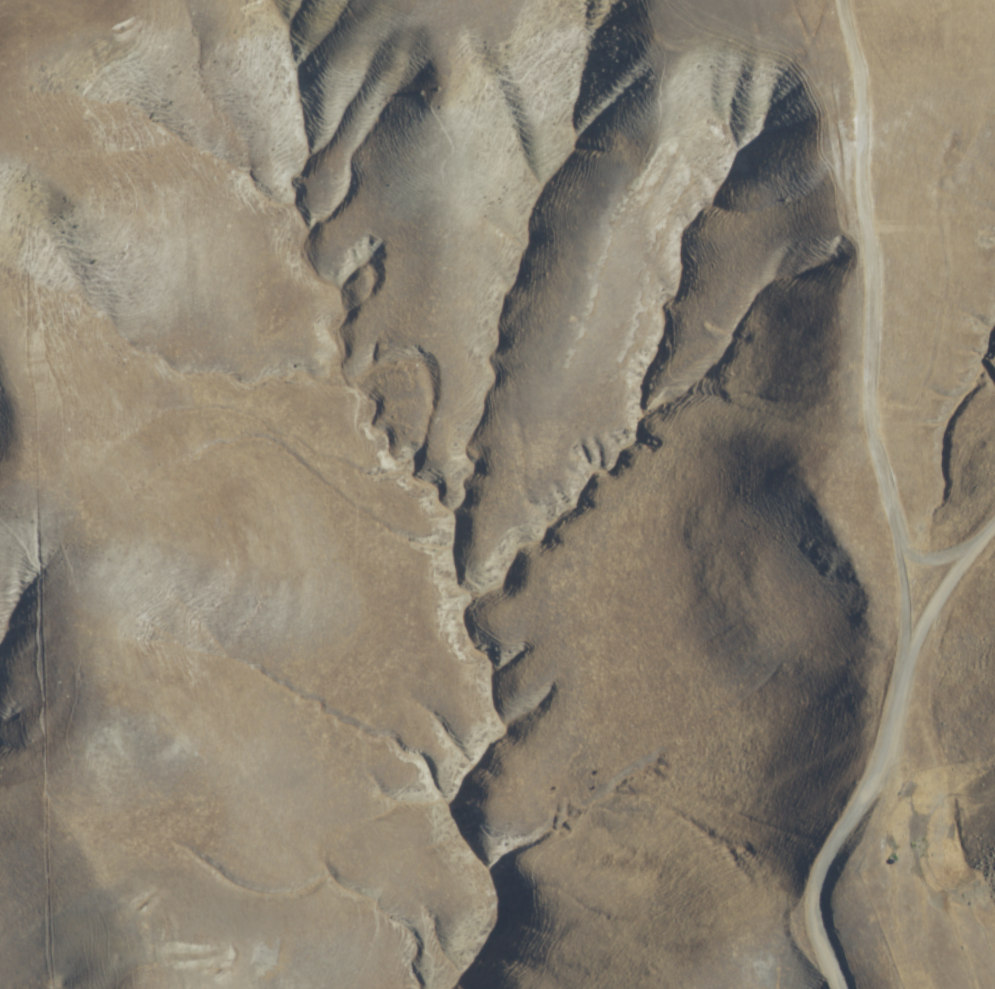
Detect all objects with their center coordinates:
road: (893, 507)
road: (953, 548)

